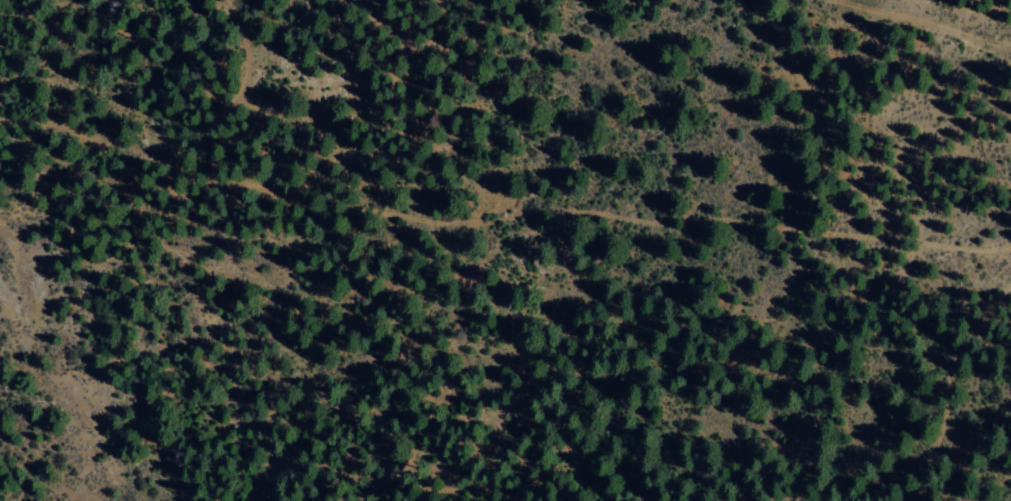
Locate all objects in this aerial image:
road: (960, 12)

